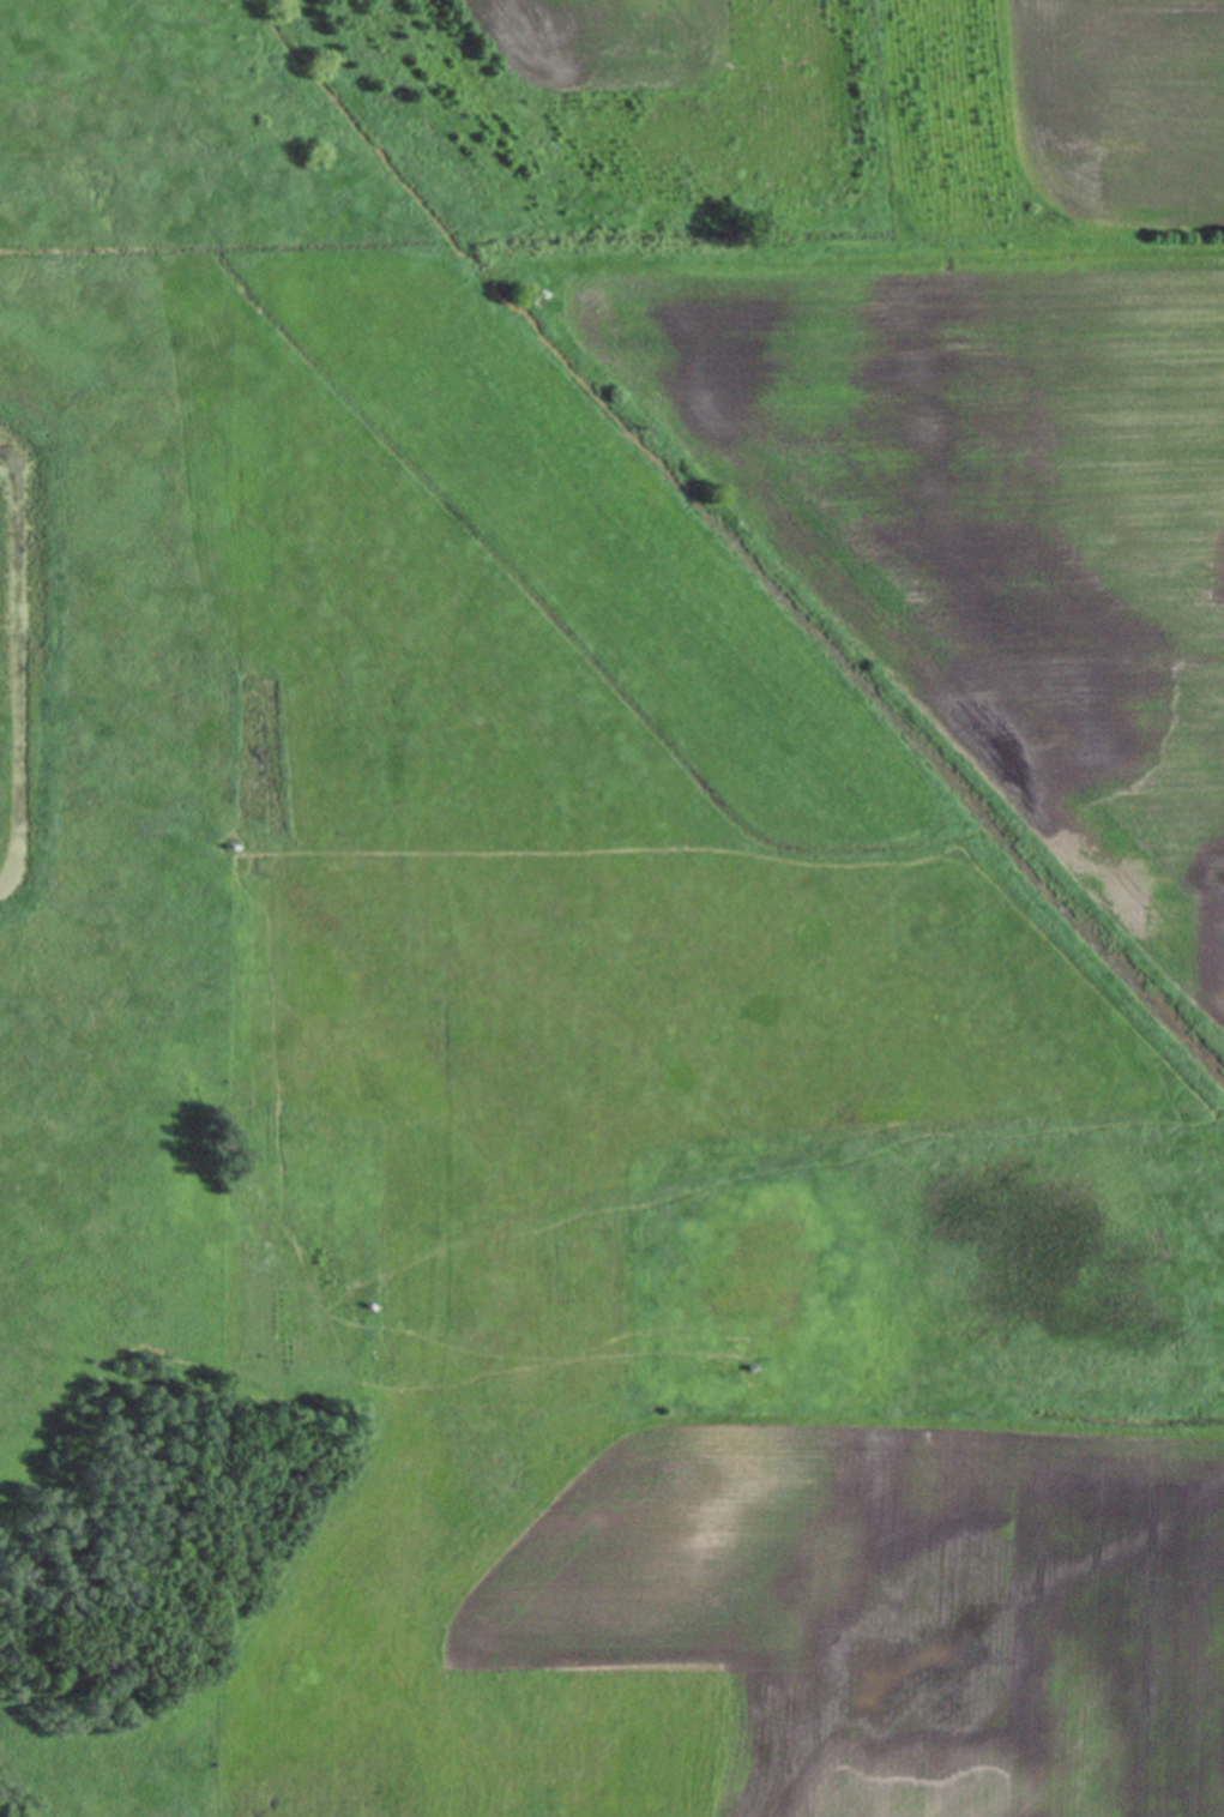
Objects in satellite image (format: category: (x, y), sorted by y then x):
building: (487, 275)
building: (541, 293)
building: (230, 841)
building: (369, 1302)
building: (246, 1401)
building: (216, 1762)

